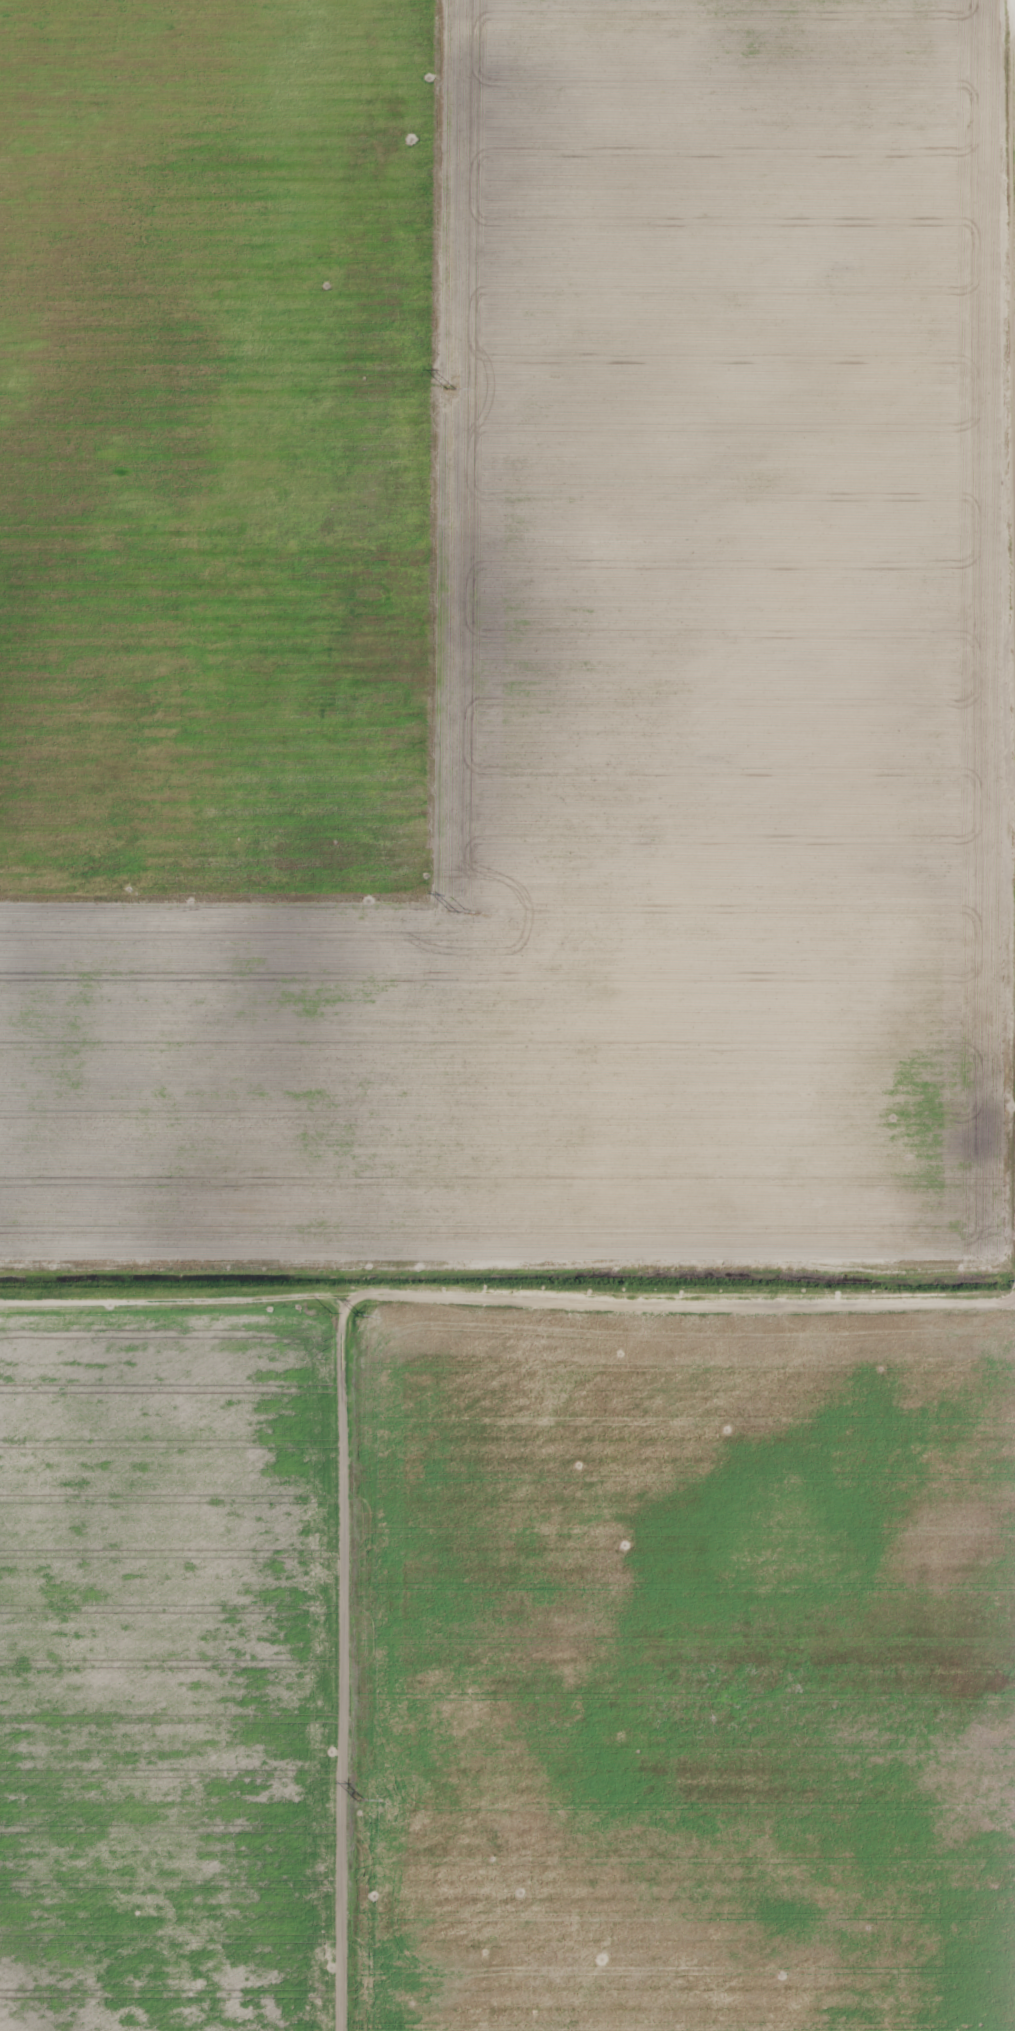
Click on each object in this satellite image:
road: (1014, 23)
road: (1014, 92)
power tower: (449, 389)
power tower: (453, 912)
road: (507, 1292)
power tower: (359, 1316)
road: (317, 1663)
power tower: (360, 1799)

